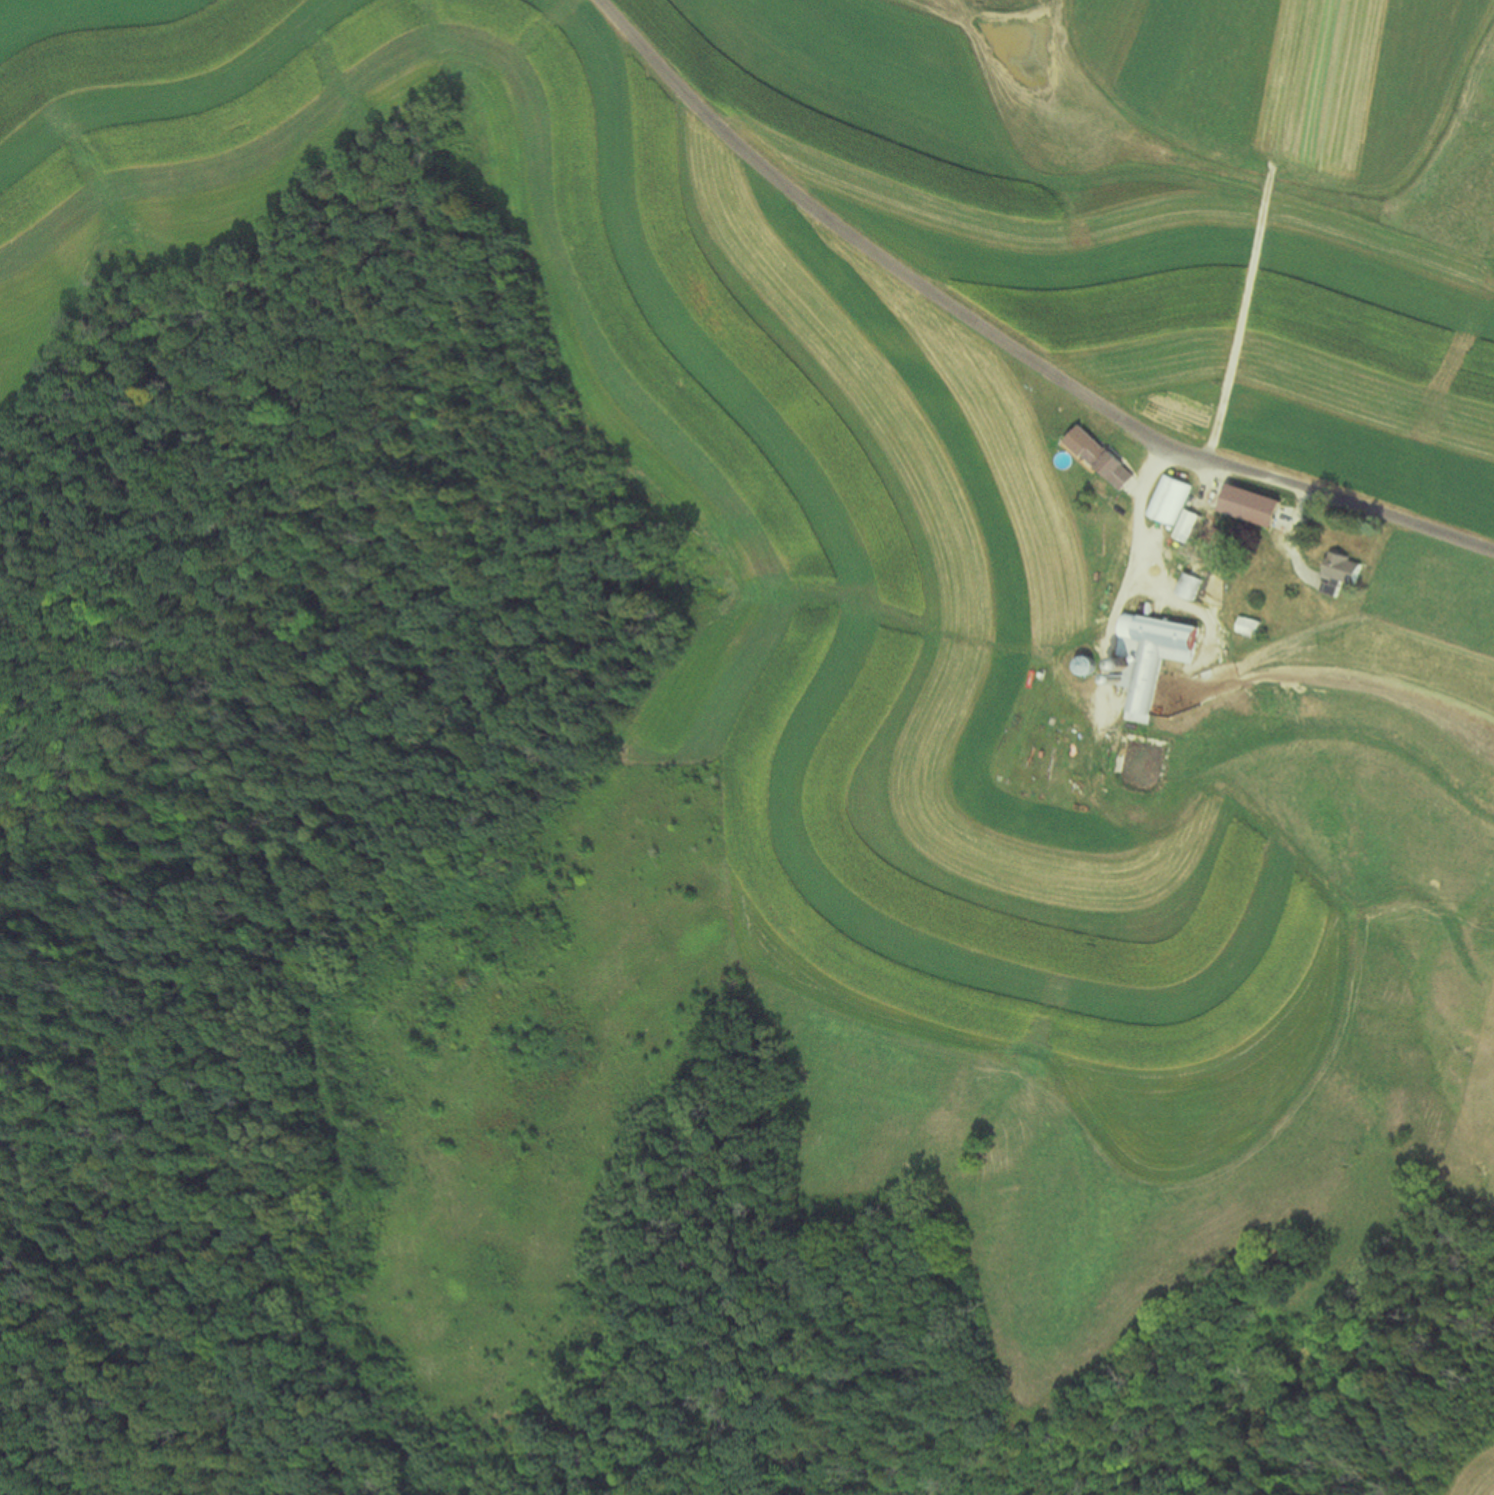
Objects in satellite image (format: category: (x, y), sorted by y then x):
road: (1004, 343)
road: (1137, 573)

